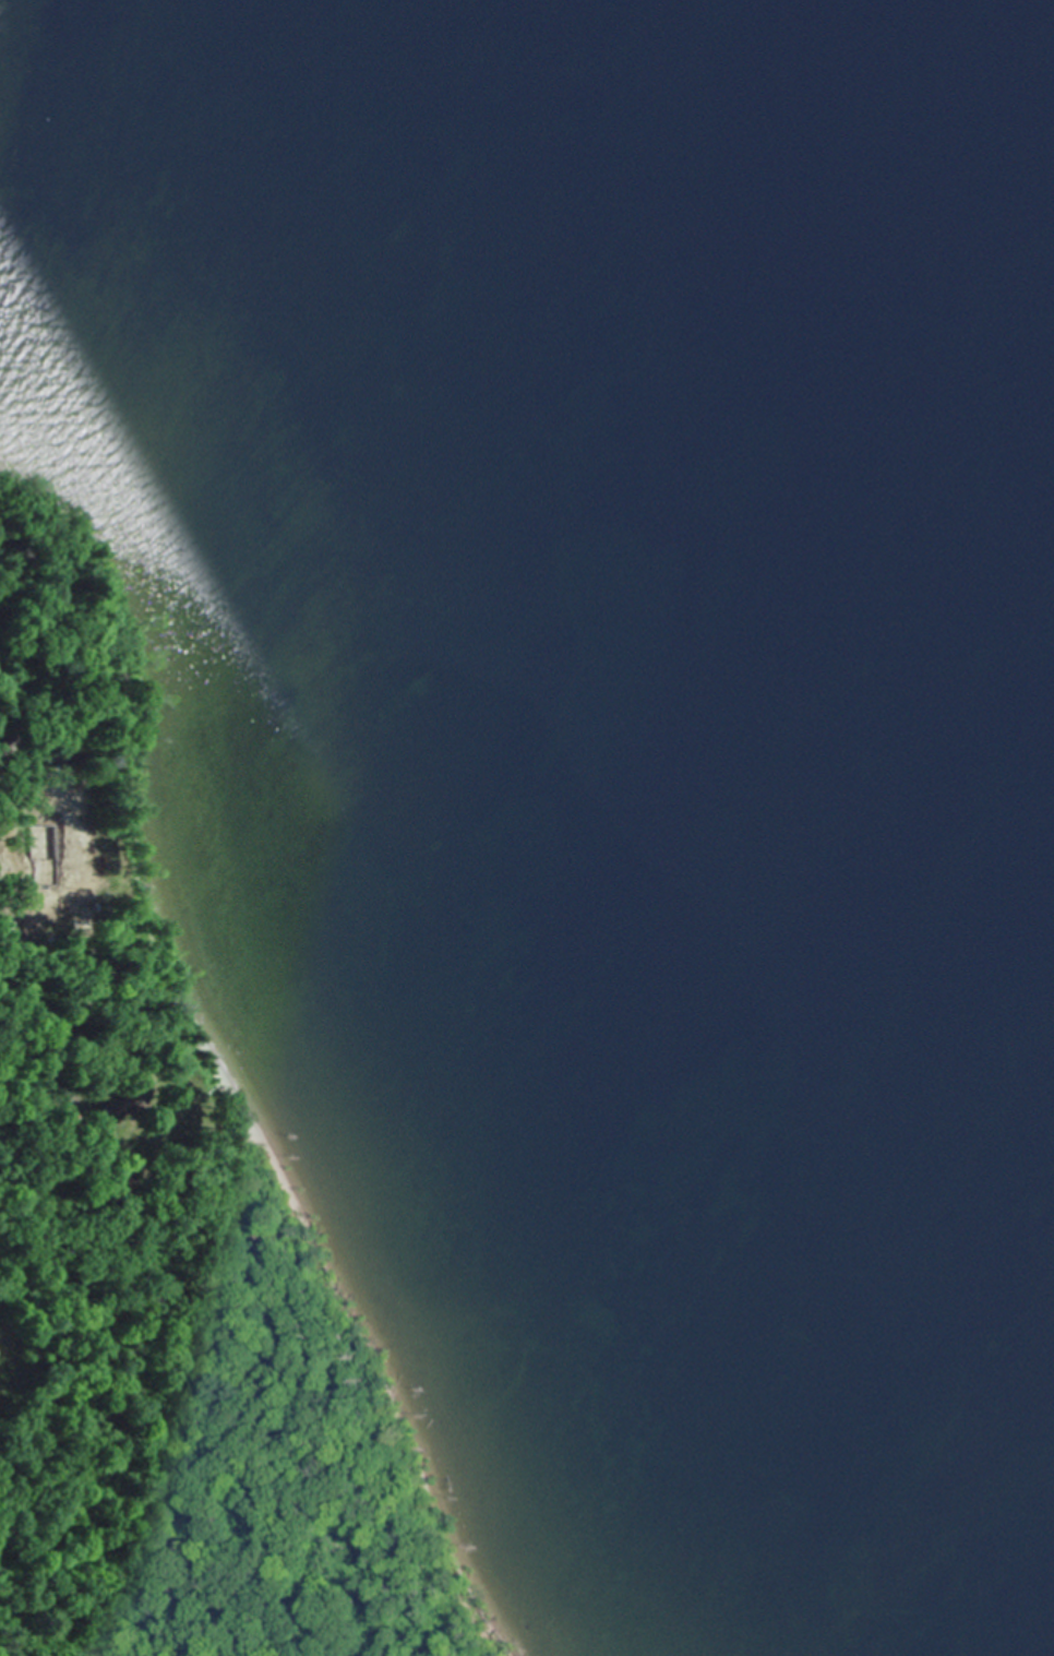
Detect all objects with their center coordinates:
road: (117, 1322)

